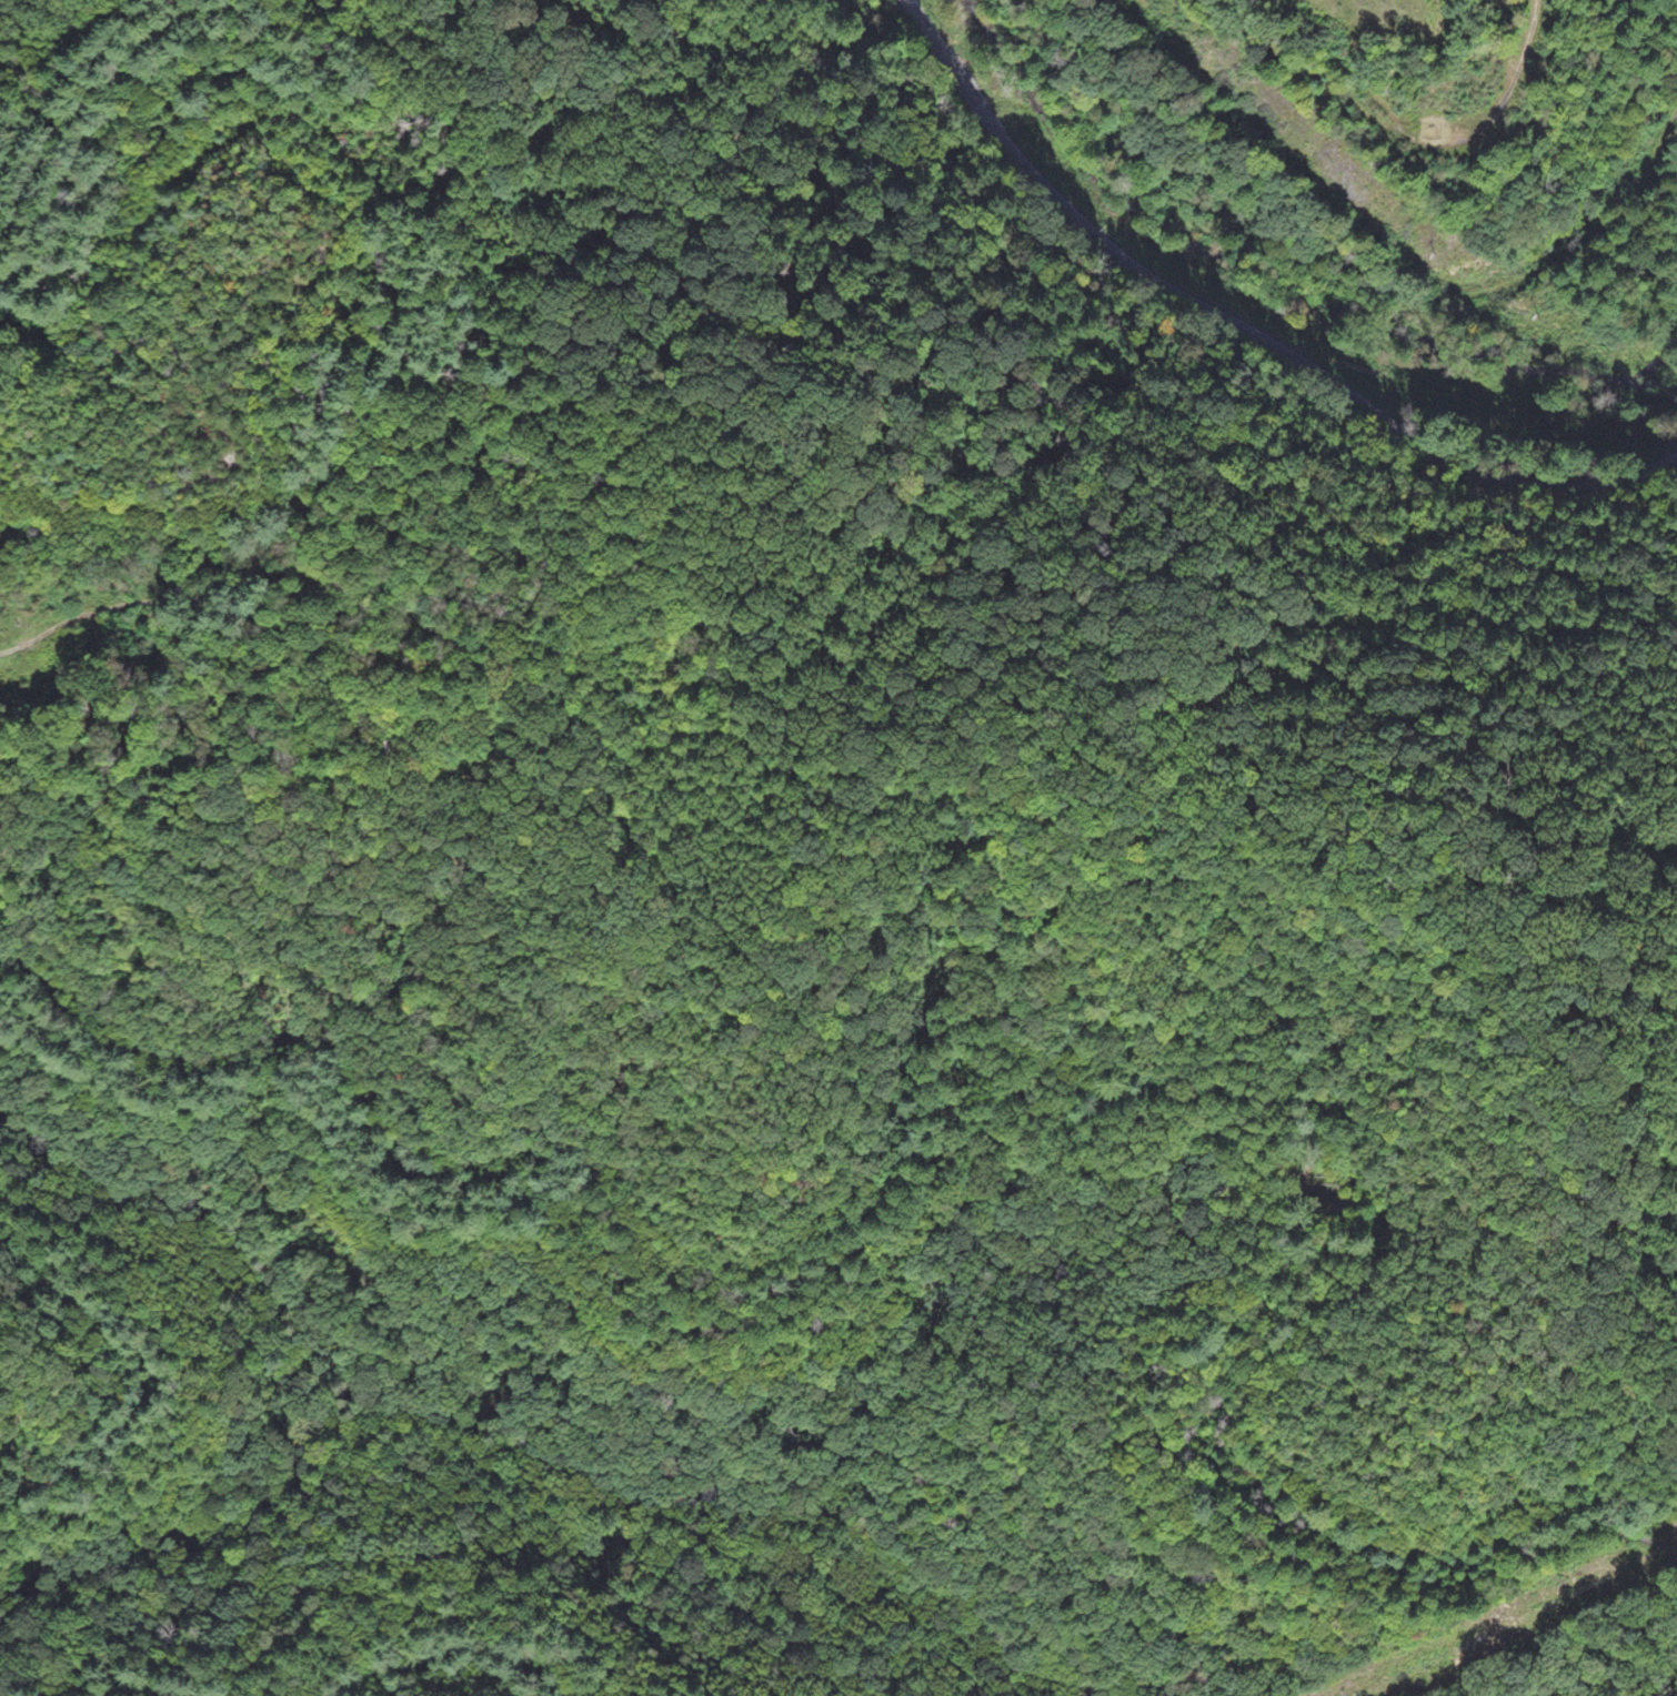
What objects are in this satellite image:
road: (1247, 329)

